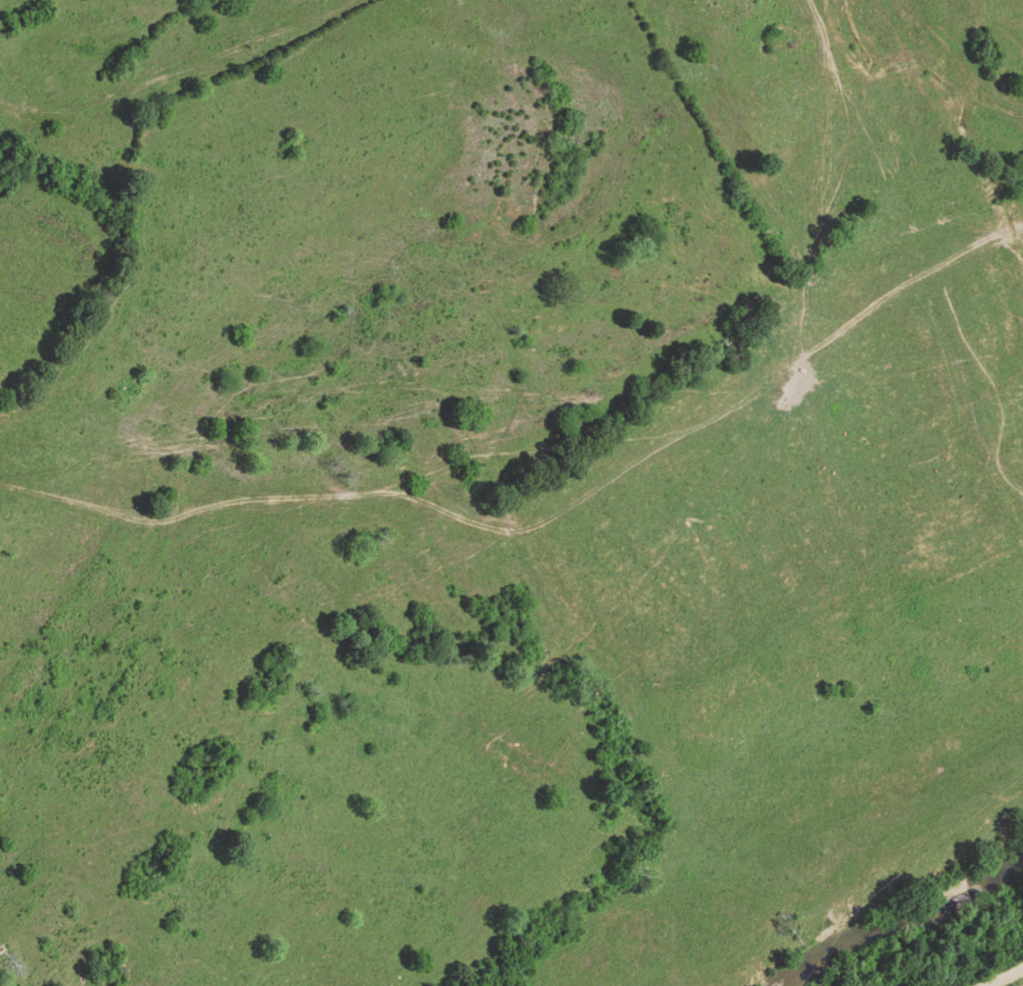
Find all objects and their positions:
road: (1011, 980)

